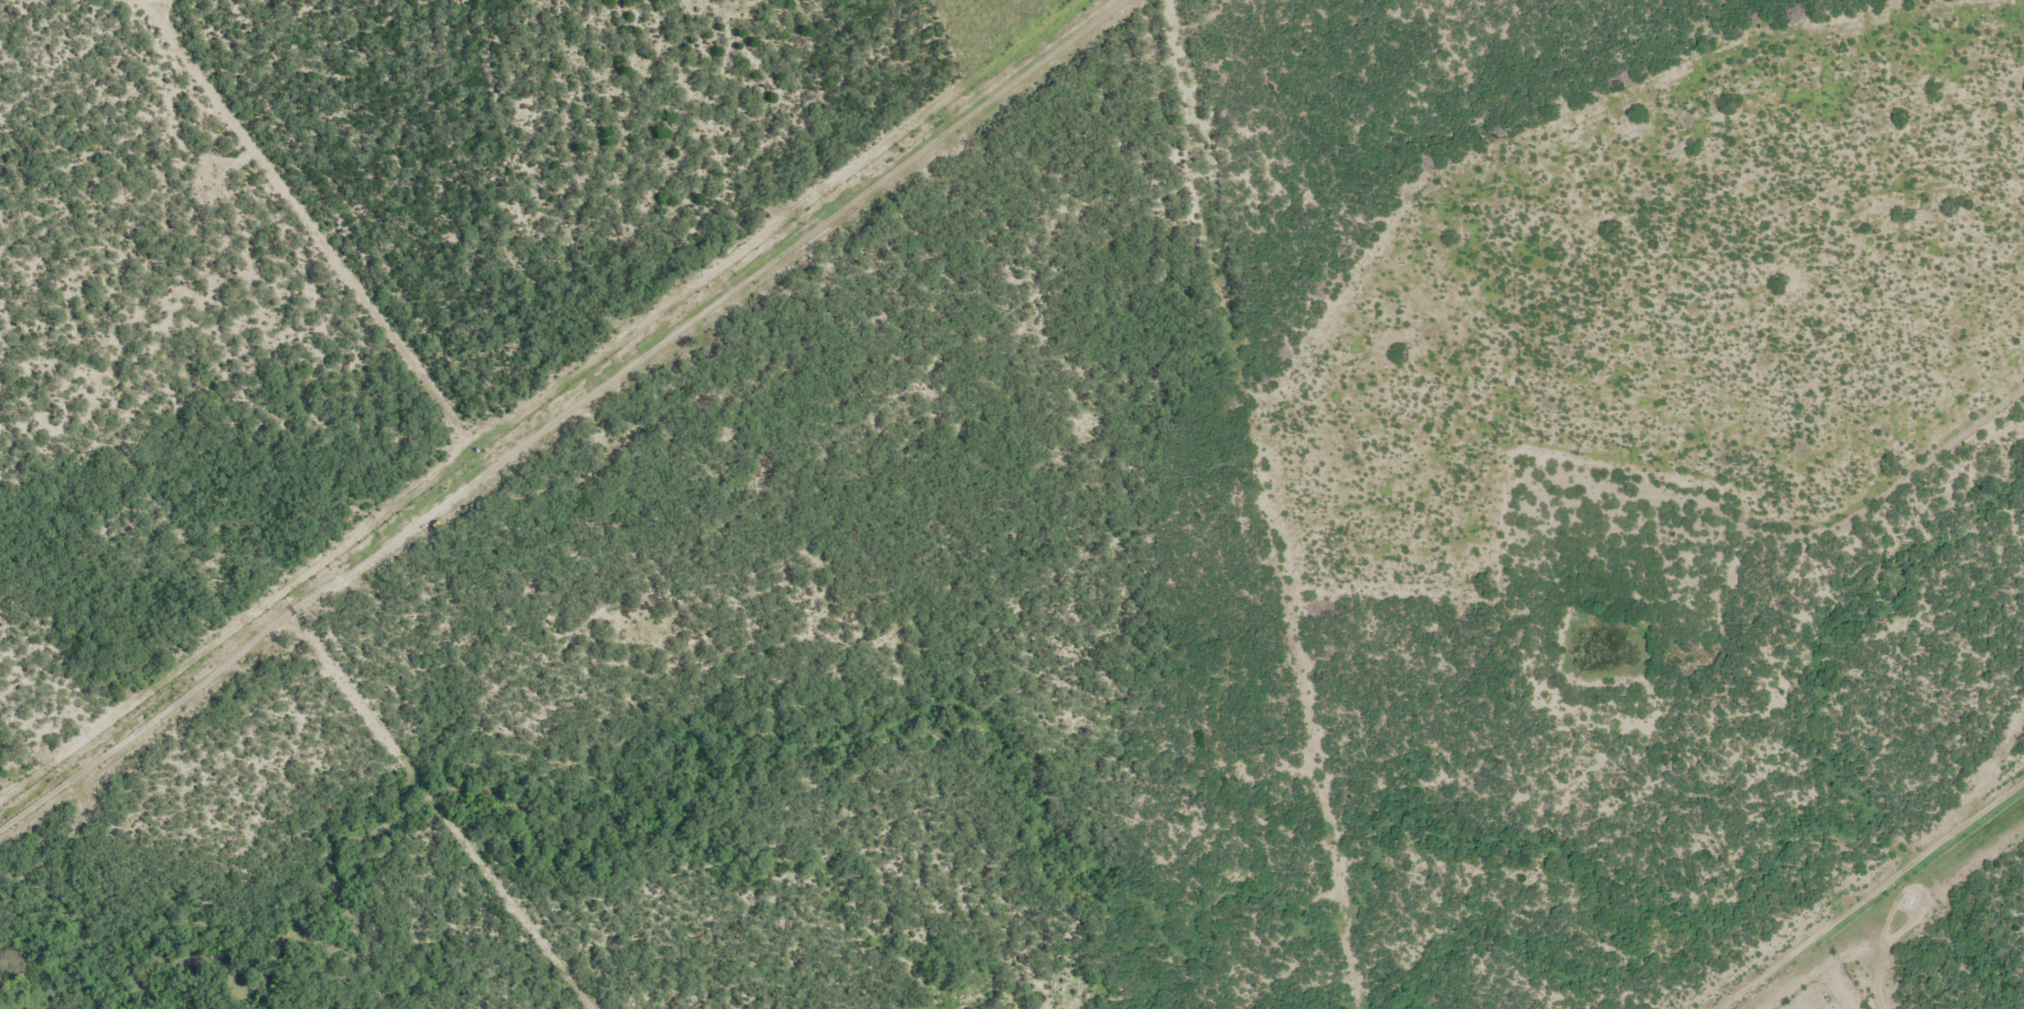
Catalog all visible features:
road: (568, 429)
road: (1905, 931)

